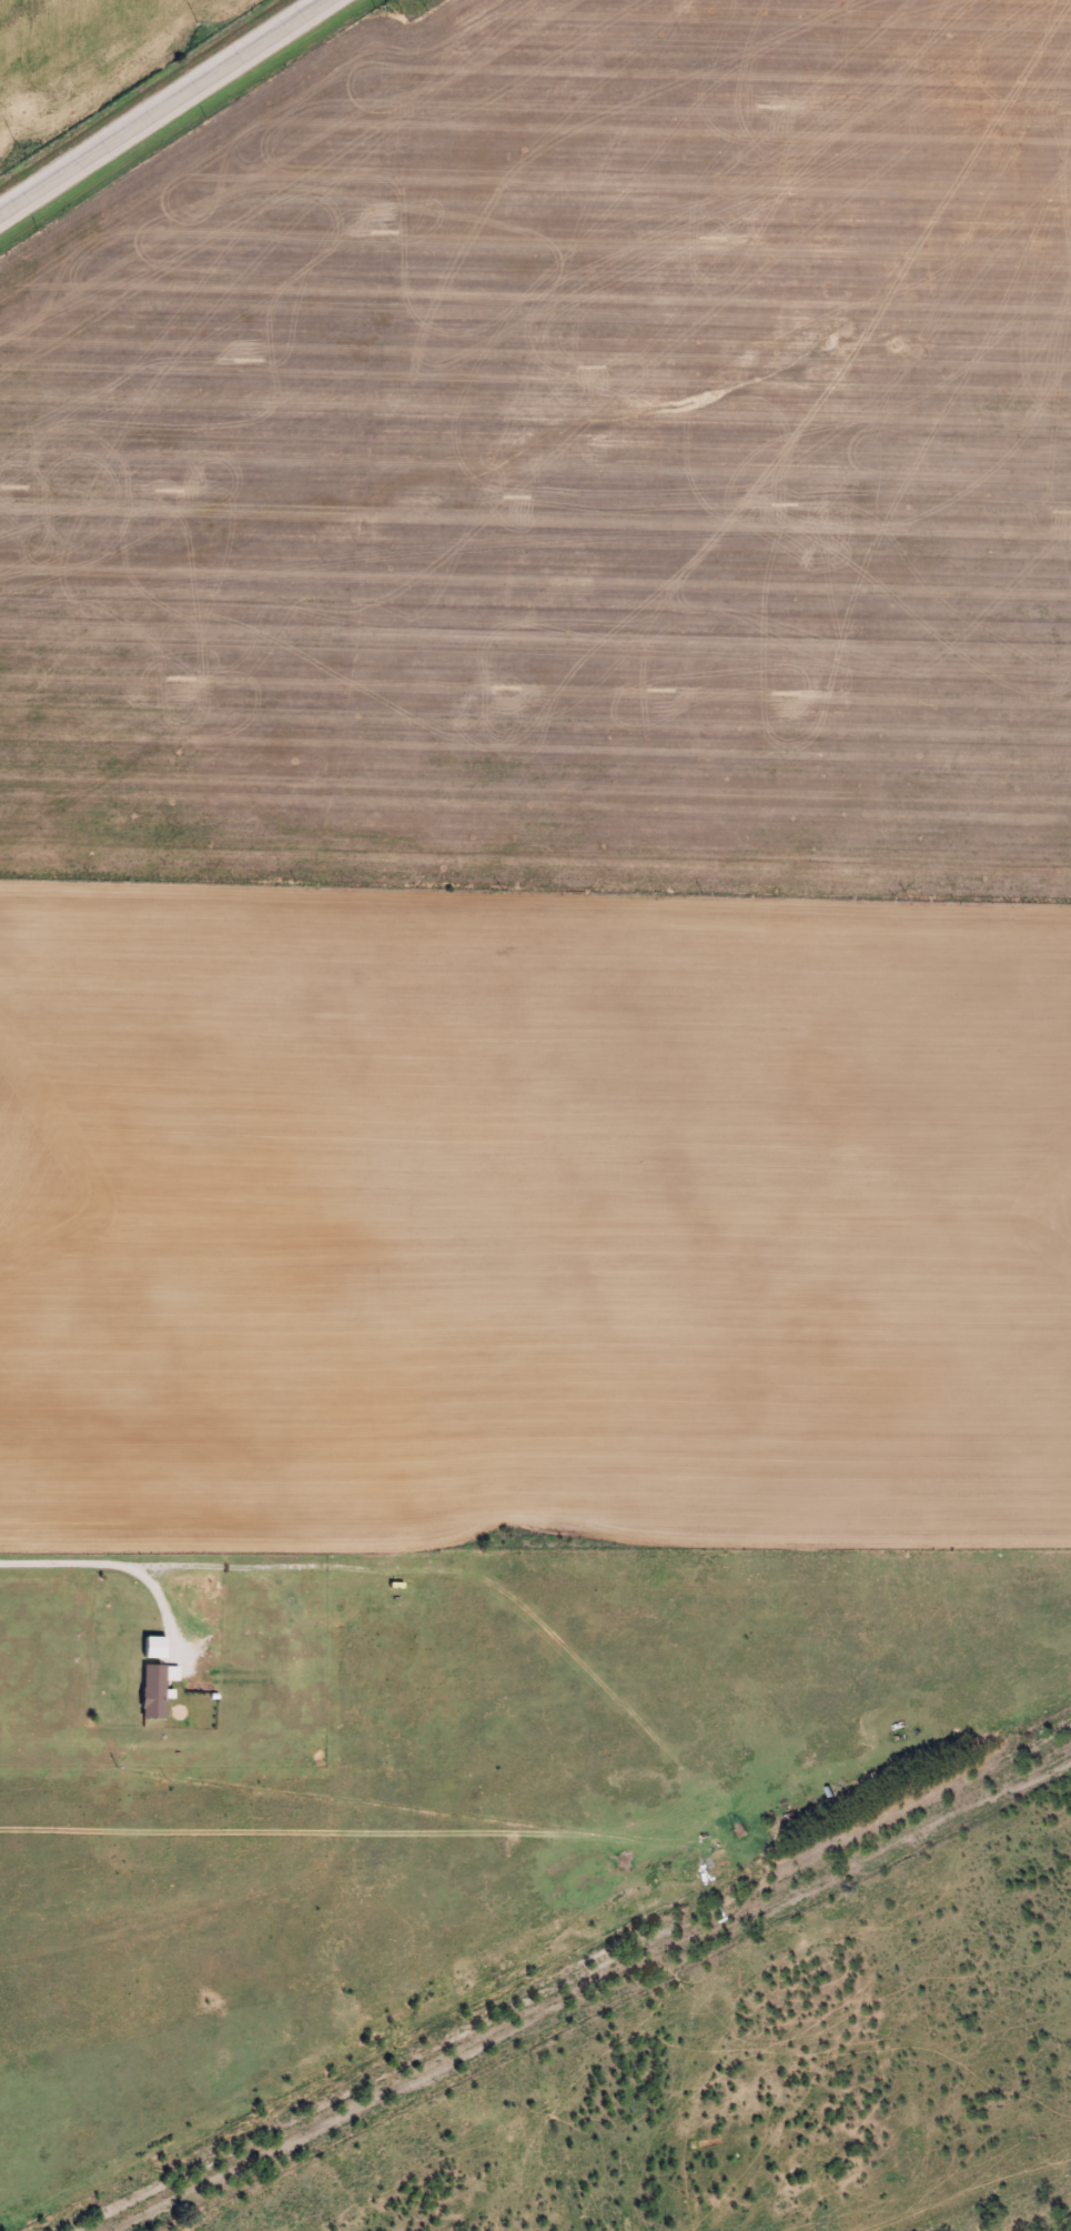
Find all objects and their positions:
road: (155, 107)
building: (152, 1689)
railway: (580, 1984)

